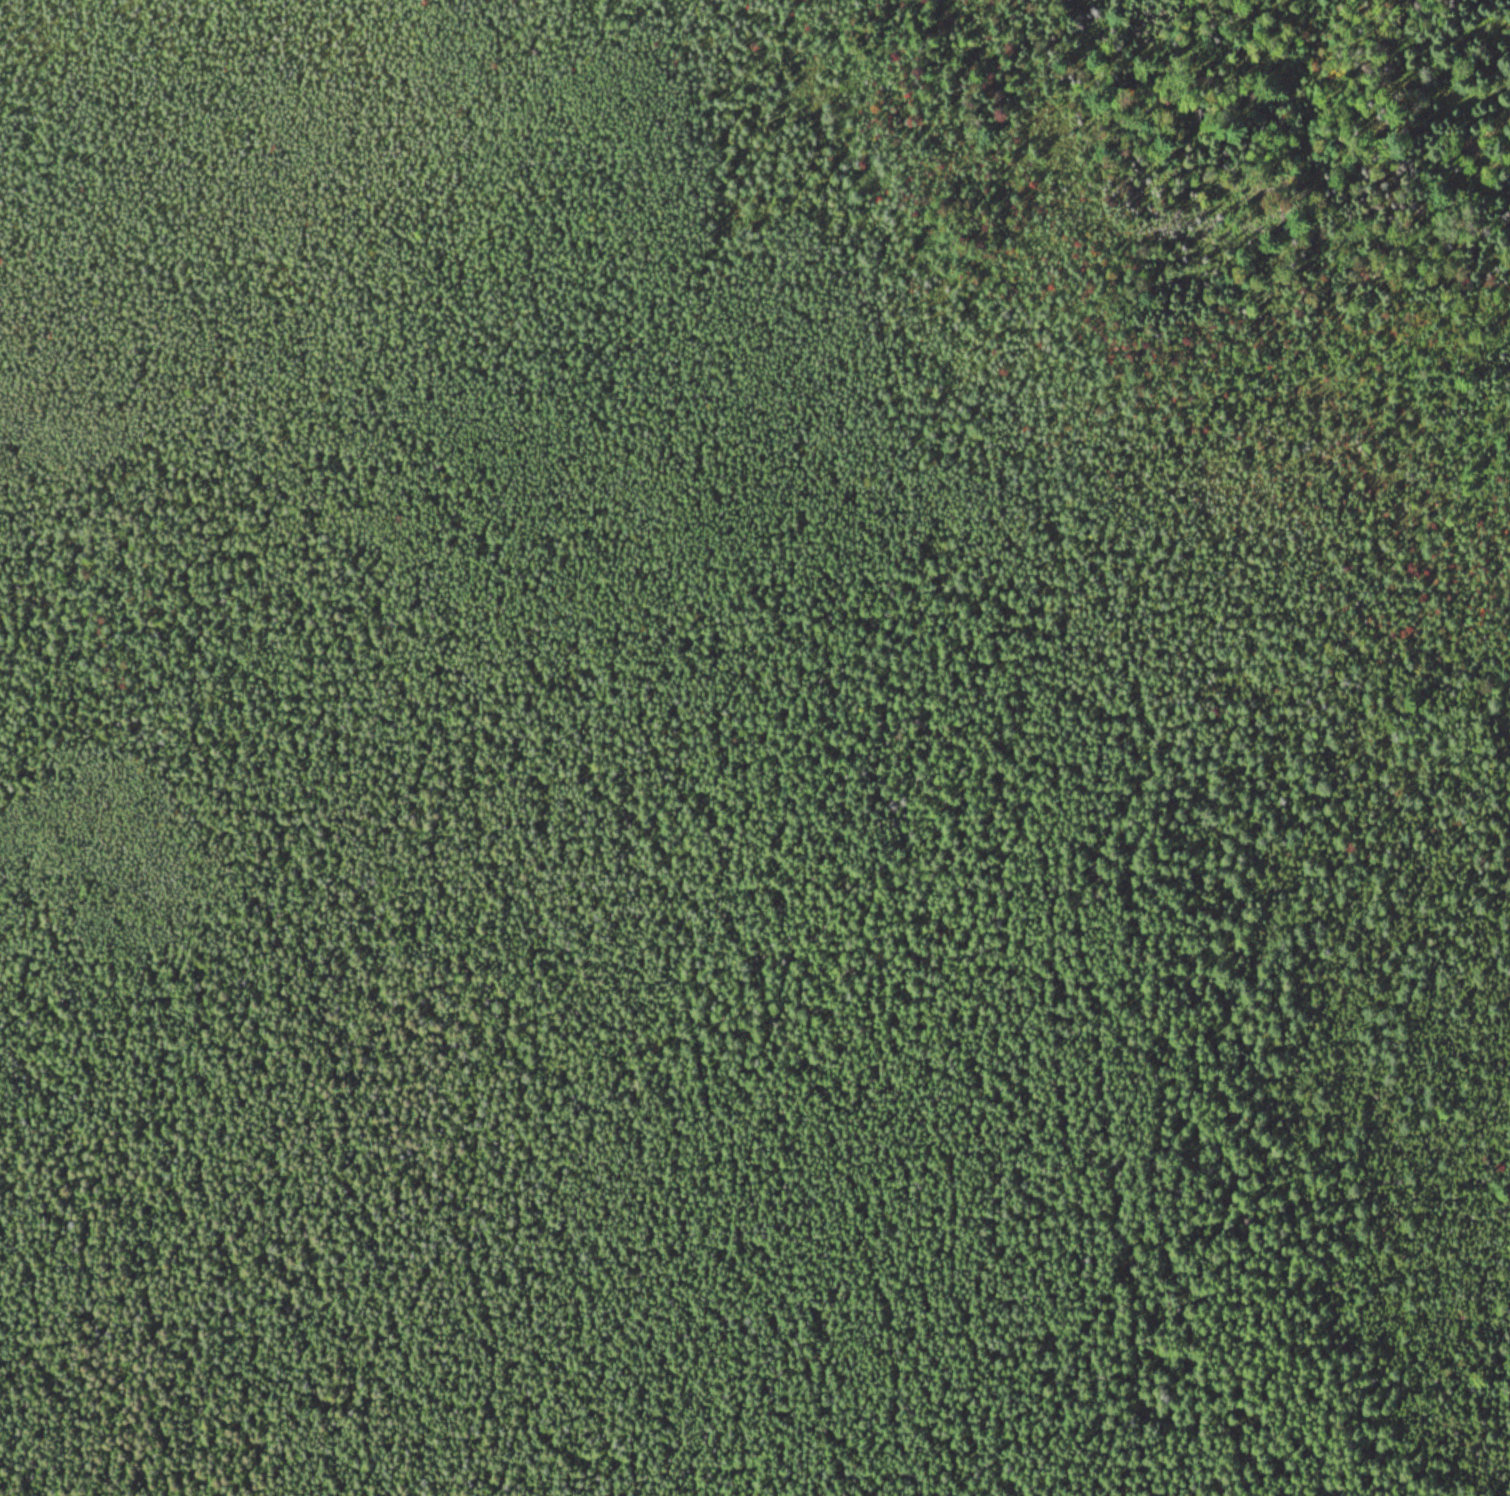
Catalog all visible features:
road: (1328, 165)

